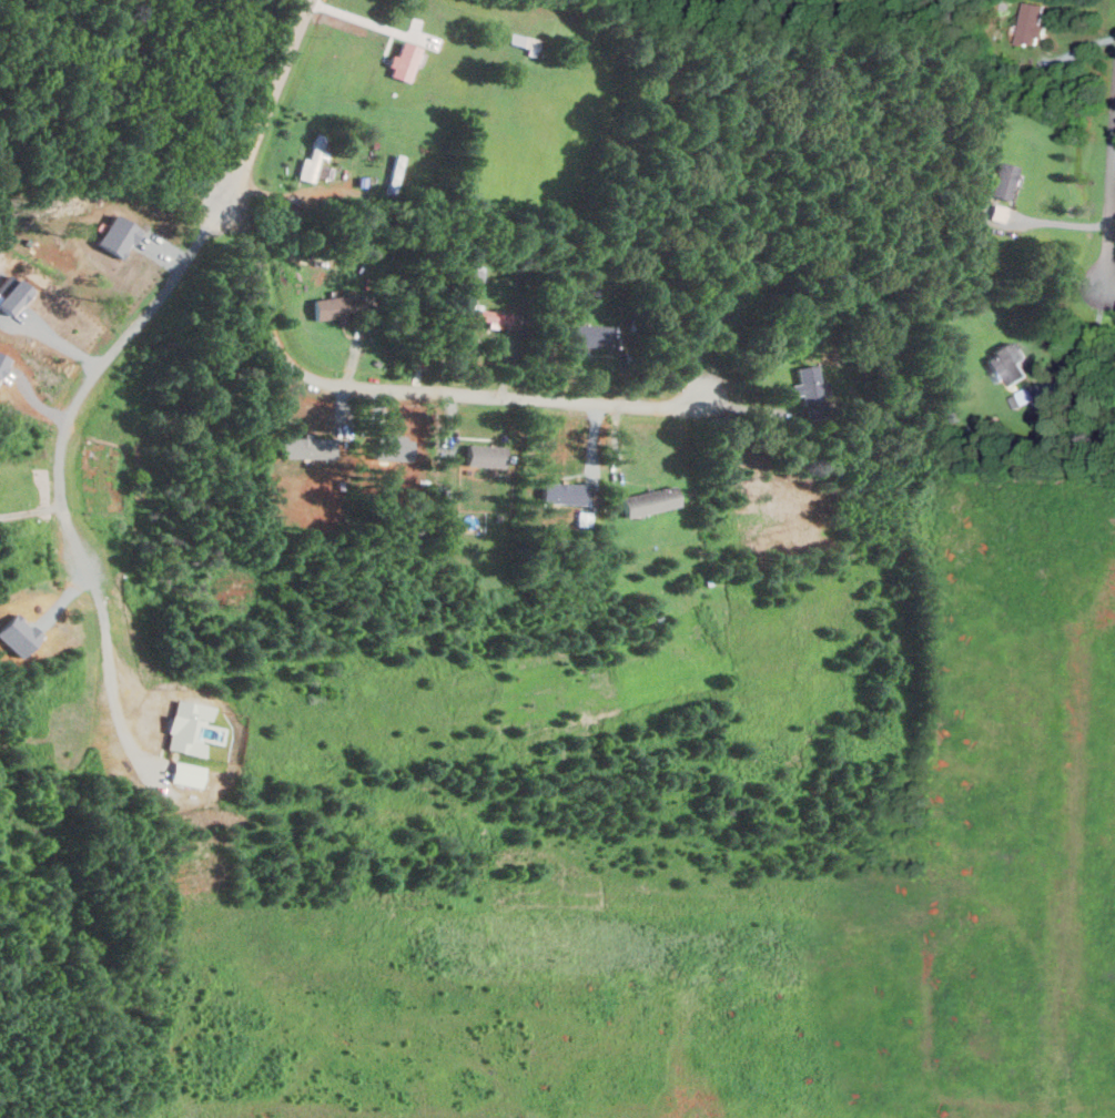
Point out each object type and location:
road: (358, 22)
building: (1030, 22)
building: (526, 42)
building: (407, 61)
building: (661, 77)
building: (678, 88)
road: (268, 106)
building: (374, 143)
building: (315, 162)
building: (396, 173)
building: (1000, 180)
building: (363, 181)
building: (996, 212)
road: (1109, 217)
road: (1109, 301)
building: (336, 305)
building: (714, 309)
building: (476, 314)
building: (577, 334)
building: (721, 337)
road: (1091, 342)
building: (1006, 362)
road: (95, 370)
building: (808, 384)
road: (398, 394)
building: (1025, 395)
building: (1015, 400)
building: (954, 417)
building: (969, 428)
building: (298, 447)
building: (485, 455)
building: (649, 501)
road: (30, 510)
road: (104, 671)
building: (181, 728)
building: (181, 773)

